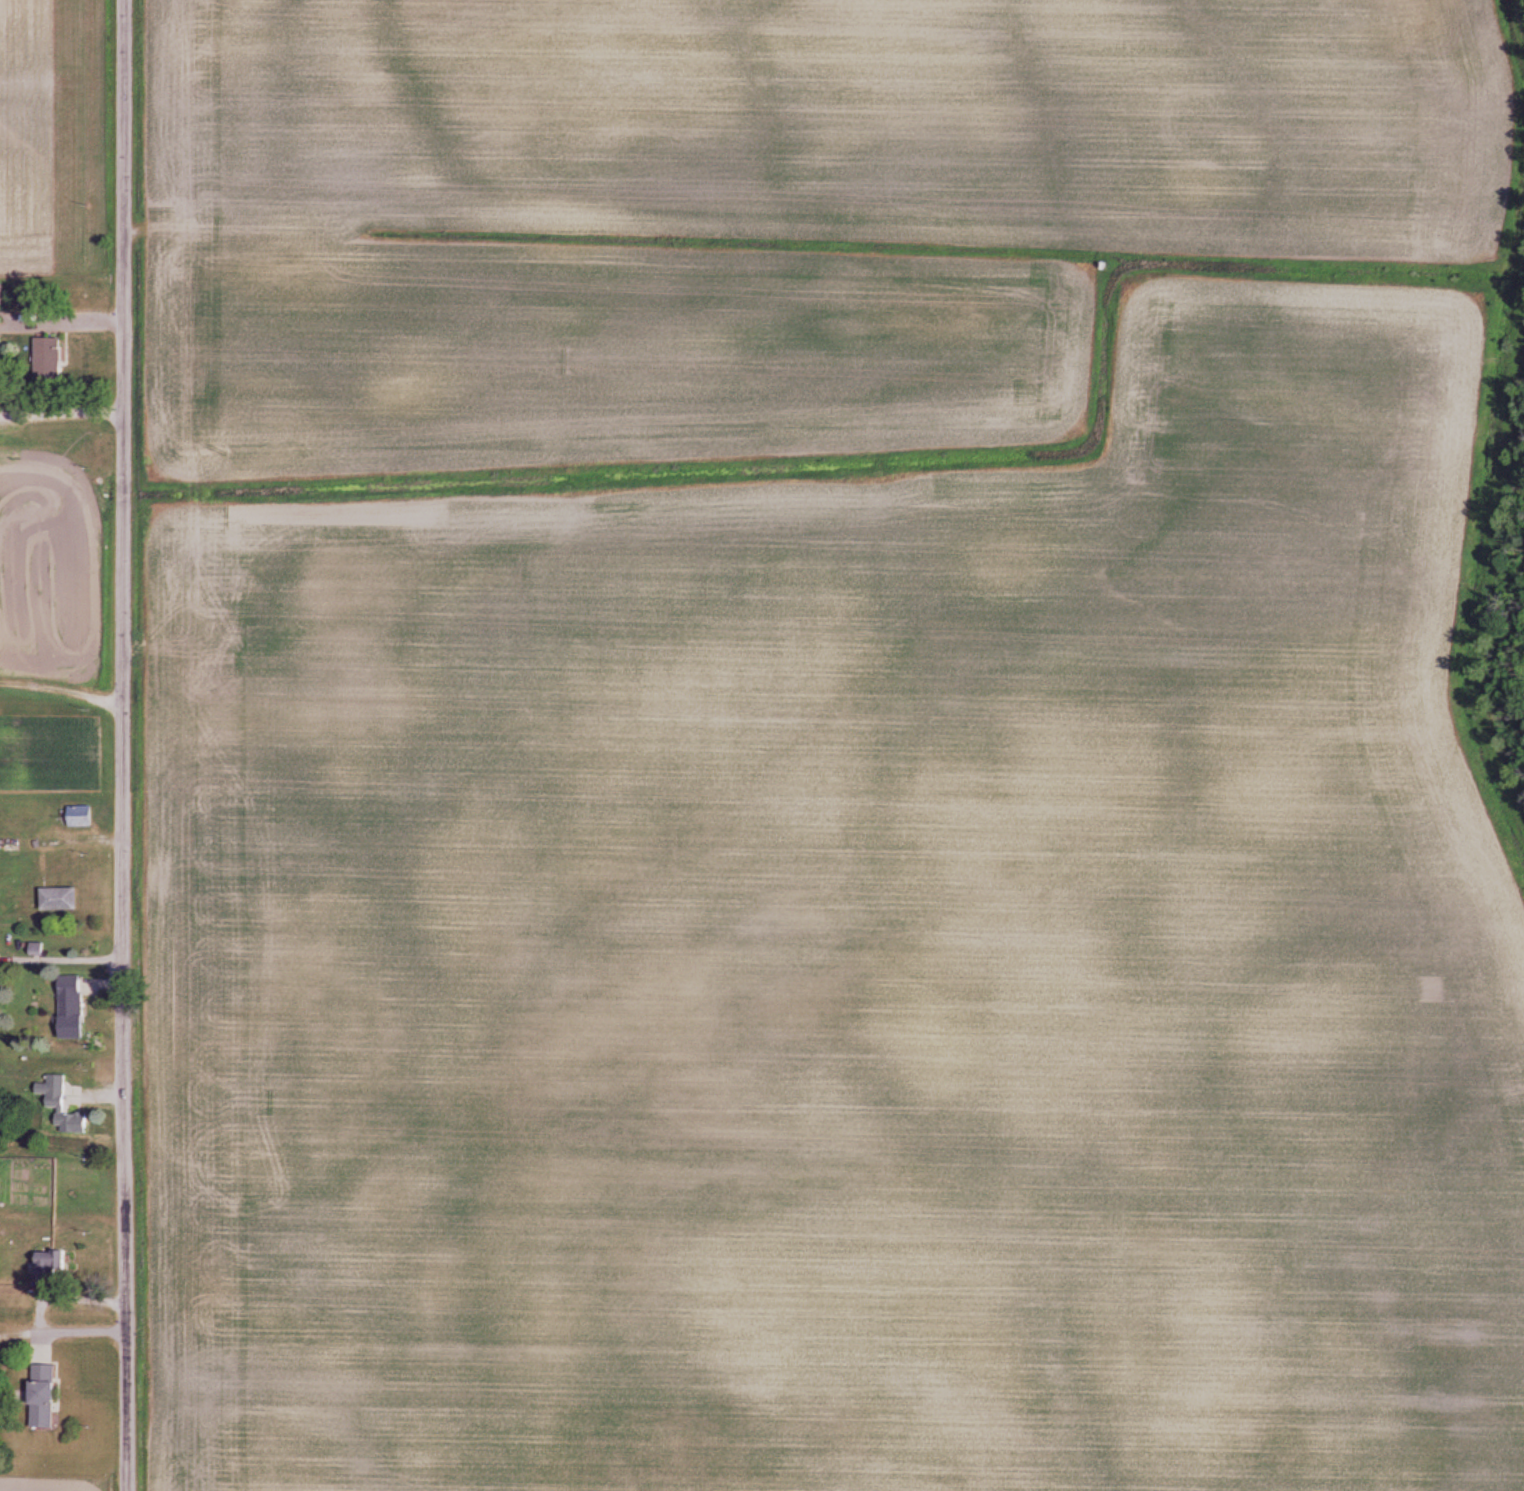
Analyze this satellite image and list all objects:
road: (72, 321)
building: (51, 358)
road: (128, 745)
building: (64, 898)
building: (77, 1005)
building: (67, 1107)
building: (53, 1262)
building: (49, 1397)

